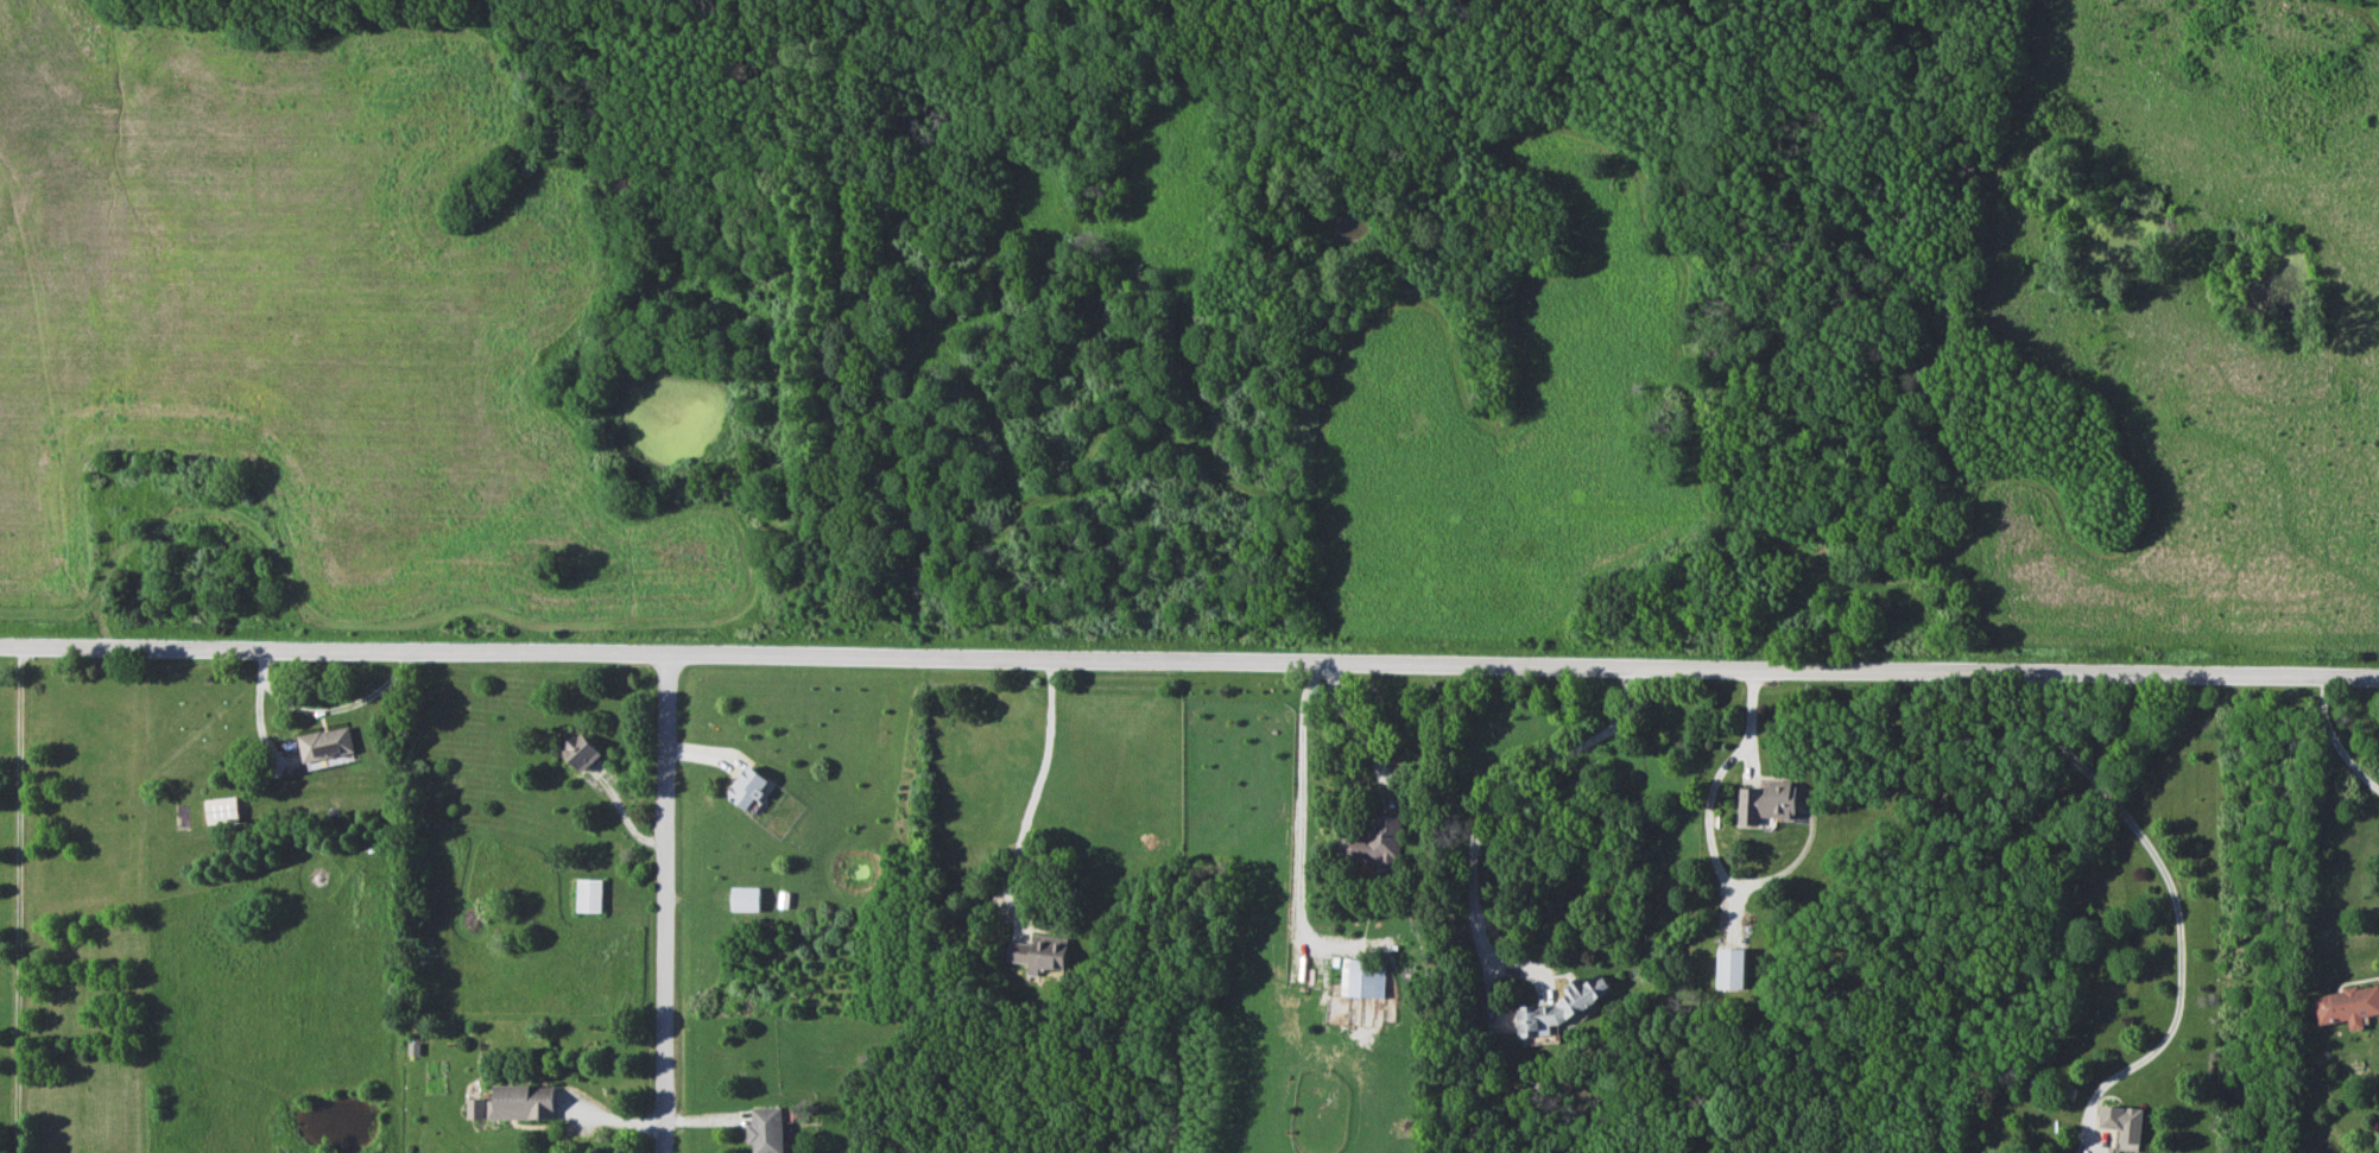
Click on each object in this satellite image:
park: (1197, 330)
road: (1189, 660)
road: (1352, 730)
road: (2334, 739)
building: (325, 745)
building: (581, 752)
building: (747, 787)
road: (1710, 788)
road: (1030, 791)
road: (1499, 791)
building: (1766, 802)
building: (221, 810)
road: (1296, 821)
building: (1374, 844)
building: (589, 894)
building: (745, 898)
road: (18, 901)
road: (665, 904)
road: (2175, 904)
building: (1039, 952)
building: (1732, 968)
building: (1362, 978)
building: (2347, 1005)
building: (1561, 1007)
building: (514, 1103)
building: (2121, 1122)
building: (766, 1129)

